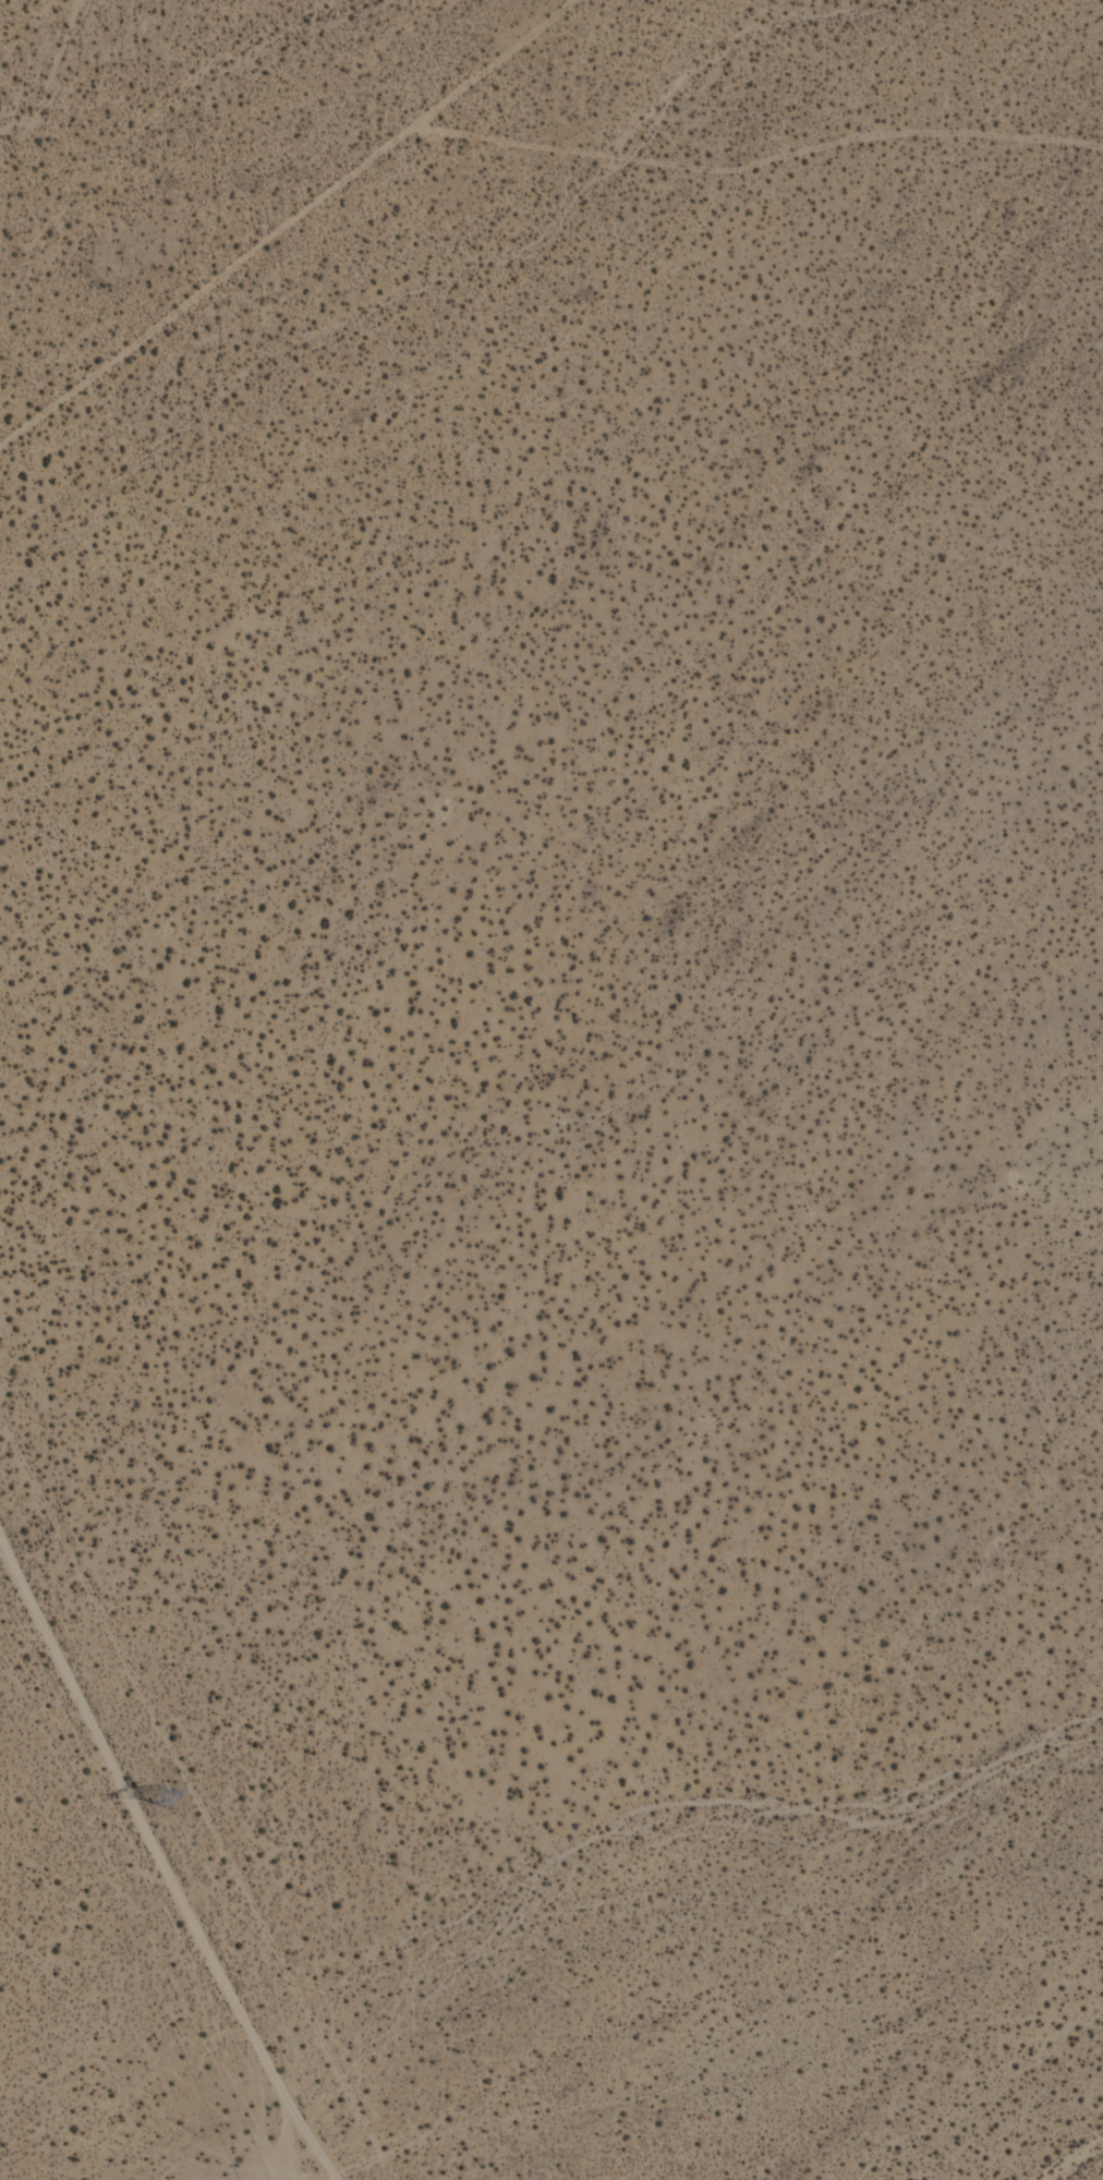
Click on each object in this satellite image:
road: (762, 159)
road: (288, 223)
power tower: (170, 1802)
road: (159, 1860)

